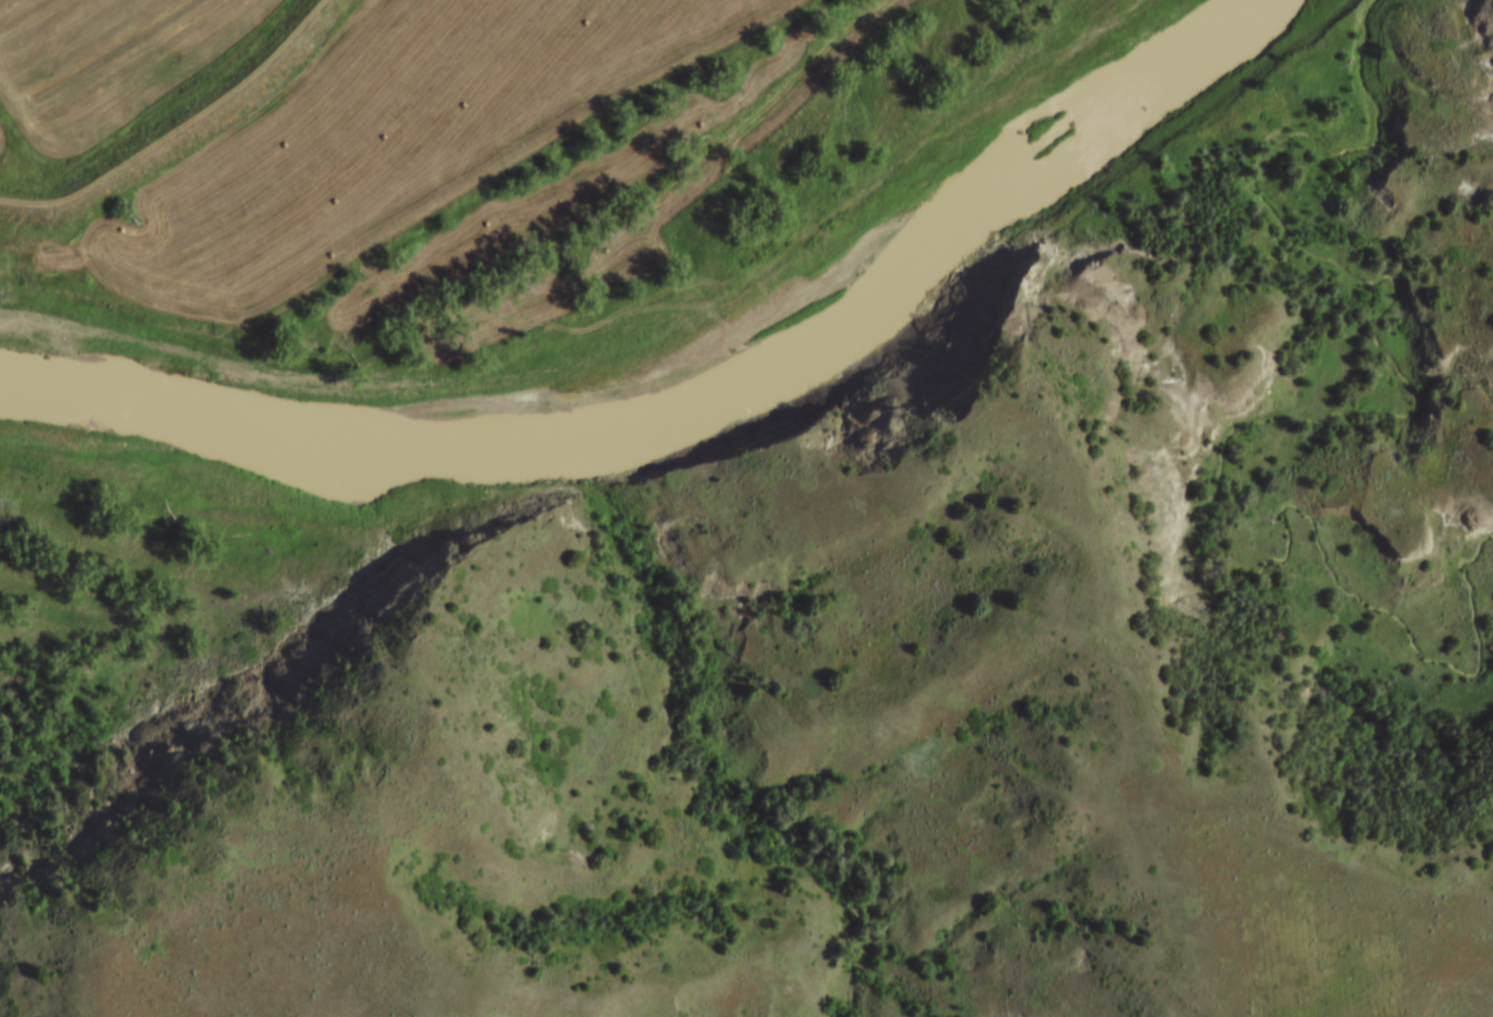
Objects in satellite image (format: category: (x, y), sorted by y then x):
road: (174, 128)
river: (690, 394)

